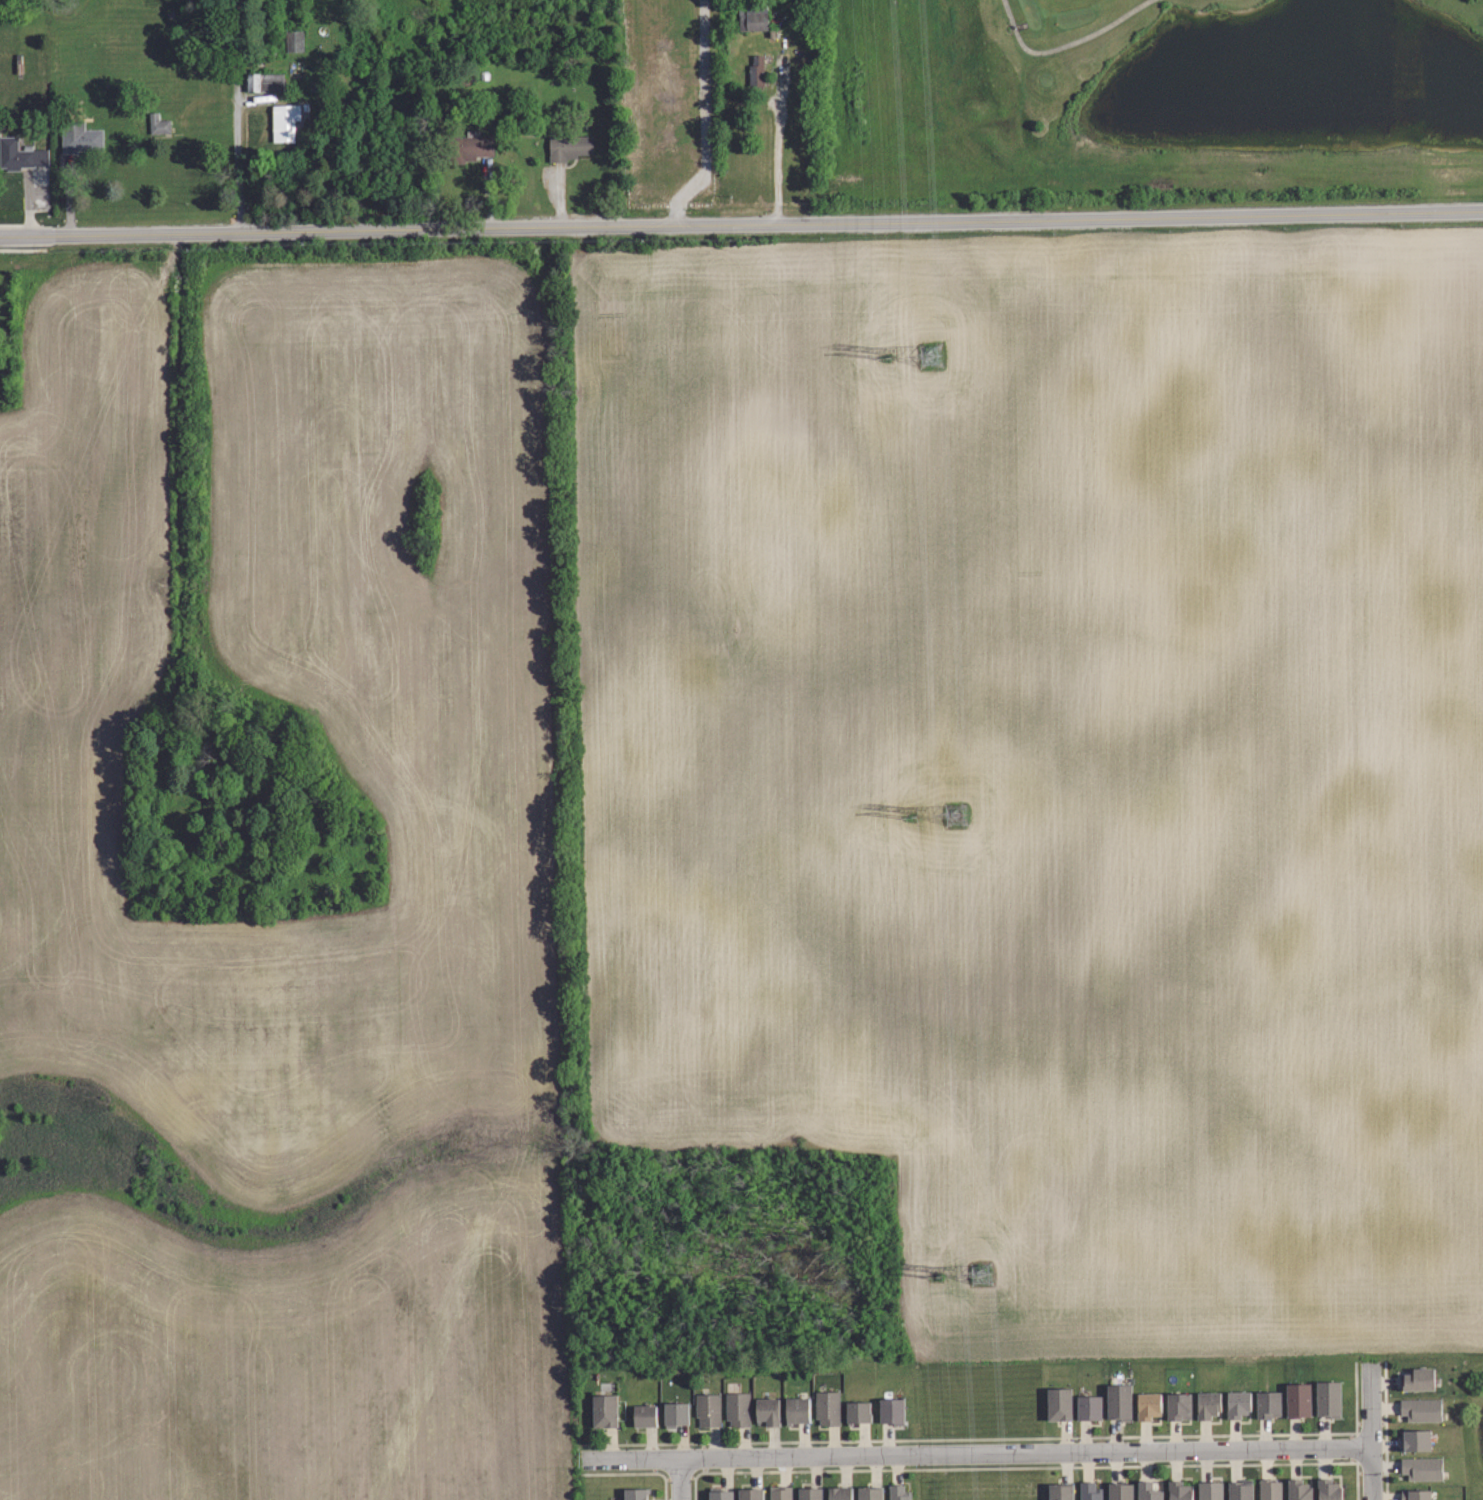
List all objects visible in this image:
building: (749, 18)
road: (1065, 45)
building: (755, 71)
building: (268, 99)
road: (238, 116)
building: (285, 120)
building: (79, 136)
building: (468, 147)
building: (567, 147)
road: (778, 153)
building: (15, 155)
building: (39, 165)
road: (741, 222)
road: (23, 250)
power tower: (932, 357)
power tower: (953, 812)
power tower: (981, 1273)
building: (1418, 1379)
building: (1328, 1398)
building: (1297, 1399)
building: (1121, 1401)
building: (1061, 1404)
building: (1270, 1404)
building: (1151, 1405)
building: (1208, 1405)
building: (1238, 1405)
building: (827, 1406)
building: (1179, 1406)
building: (737, 1407)
building: (1090, 1407)
building: (707, 1408)
building: (1423, 1408)
building: (604, 1409)
building: (796, 1409)
building: (767, 1410)
building: (858, 1410)
building: (893, 1410)
building: (674, 1413)
building: (643, 1414)
road: (1370, 1431)
building: (1416, 1440)
road: (979, 1454)
building: (1422, 1467)
road: (678, 1479)
building: (1271, 1489)
building: (1298, 1489)
building: (1331, 1489)
building: (1063, 1491)
building: (1091, 1491)
building: (1122, 1491)
building: (1148, 1491)
building: (1180, 1491)
building: (1211, 1491)
building: (1241, 1491)
building: (781, 1492)
building: (900, 1492)
building: (810, 1493)
building: (839, 1493)
building: (869, 1493)
building: (633, 1494)
building: (720, 1494)
building: (750, 1494)
building: (1417, 1495)

